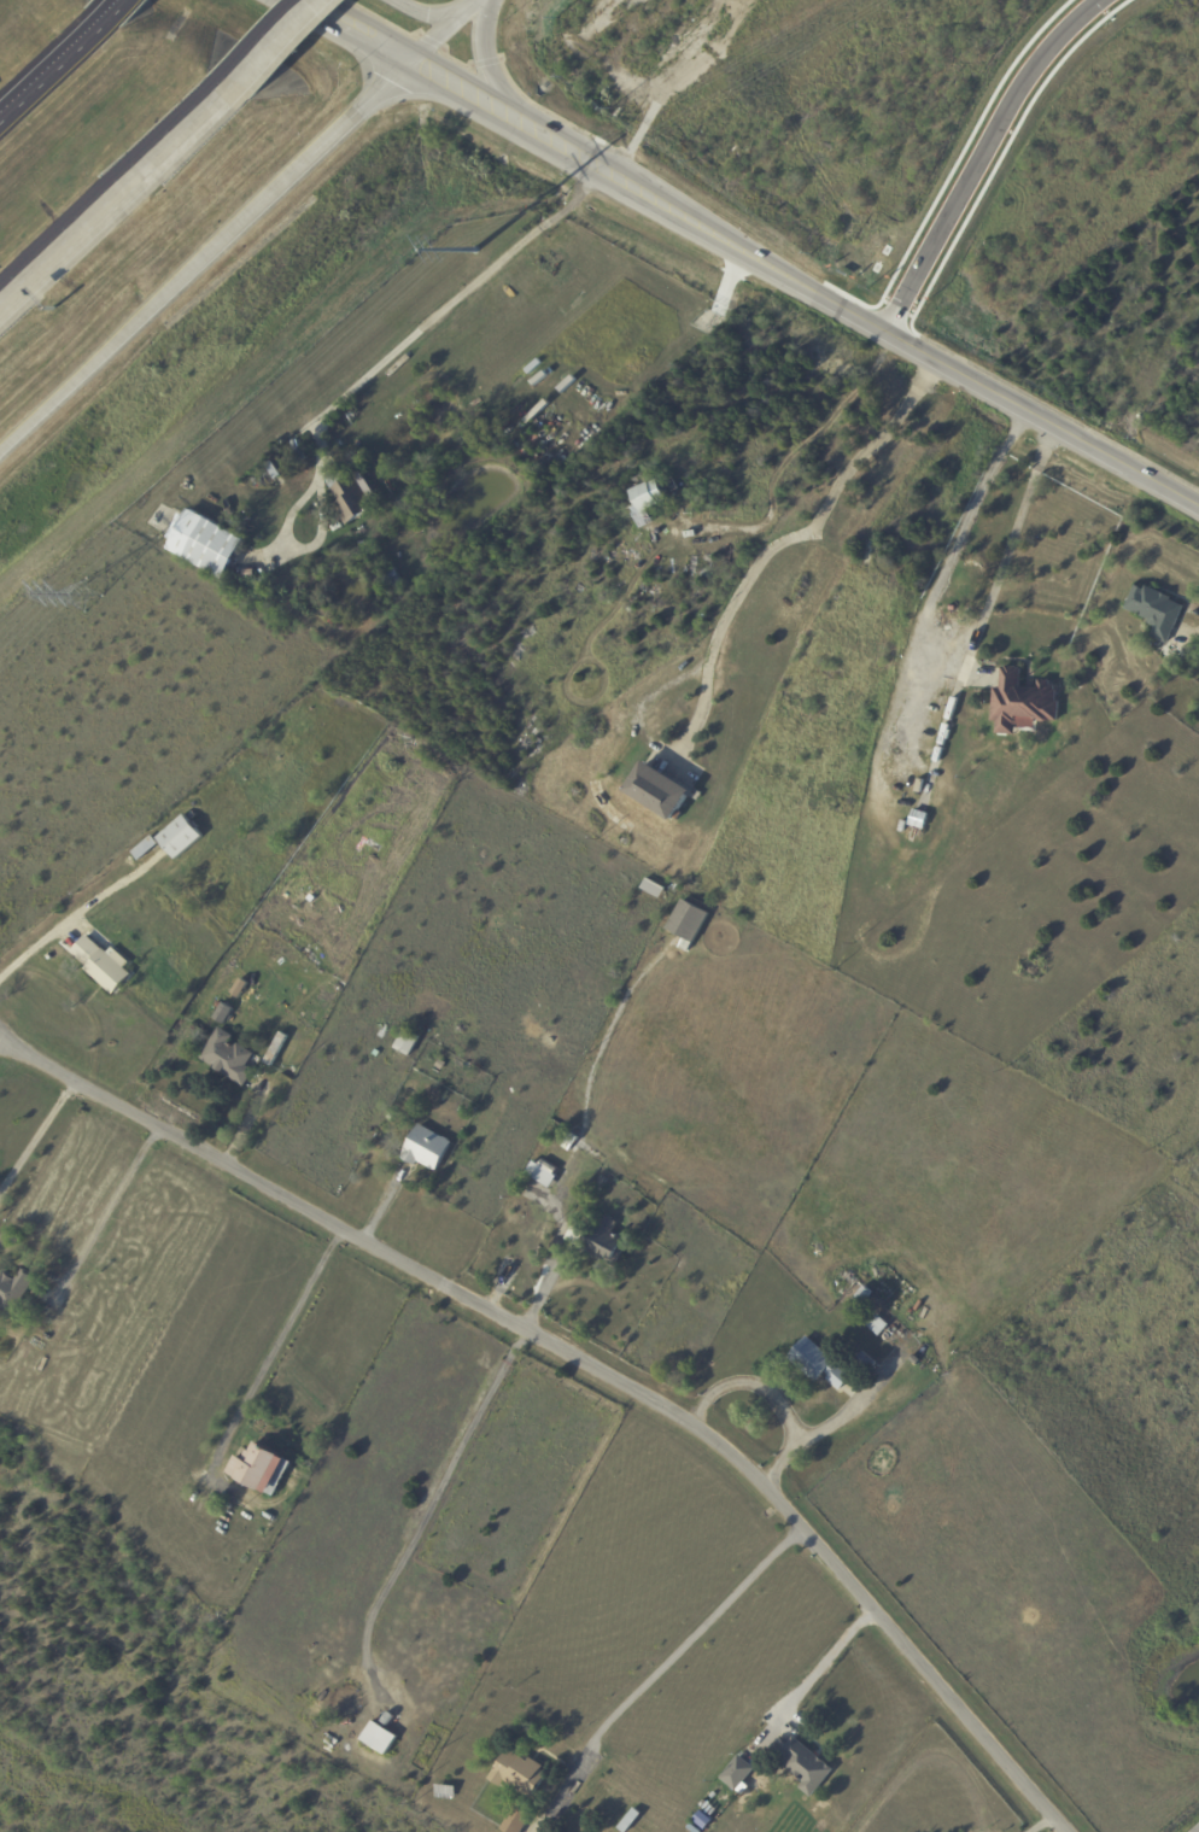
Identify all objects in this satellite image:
road: (119, 6)
road: (437, 10)
road: (297, 28)
road: (353, 30)
road: (443, 30)
road: (57, 66)
road: (489, 68)
road: (467, 94)
road: (212, 107)
road: (333, 142)
road: (562, 147)
road: (987, 159)
road: (78, 234)
power tower: (475, 254)
road: (899, 335)
road: (129, 344)
building: (826, 363)
road: (368, 376)
building: (298, 451)
road: (796, 458)
building: (550, 469)
building: (271, 473)
building: (585, 485)
building: (350, 496)
building: (645, 499)
building: (205, 543)
road: (794, 546)
building: (393, 578)
power tower: (86, 602)
building: (277, 603)
building: (1157, 611)
building: (1023, 704)
road: (907, 727)
building: (657, 794)
building: (251, 795)
building: (916, 827)
building: (180, 837)
building: (146, 848)
building: (240, 851)
building: (129, 864)
building: (654, 888)
road: (74, 914)
building: (689, 920)
building: (103, 965)
building: (226, 1011)
building: (407, 1042)
building: (227, 1057)
building: (440, 1065)
road: (36, 1136)
building: (571, 1141)
building: (426, 1148)
building: (548, 1166)
building: (575, 1200)
road: (109, 1211)
building: (574, 1236)
building: (604, 1242)
building: (12, 1292)
building: (860, 1300)
building: (878, 1325)
road: (273, 1352)
building: (865, 1362)
building: (818, 1364)
road: (587, 1366)
building: (903, 1377)
road: (772, 1392)
building: (259, 1470)
road: (439, 1492)
road: (696, 1634)
road: (830, 1660)
building: (365, 1703)
building: (379, 1737)
building: (806, 1767)
building: (517, 1774)
building: (737, 1774)
building: (516, 1820)
building: (630, 1821)
road: (1037, 1822)
road: (1198, 1831)

